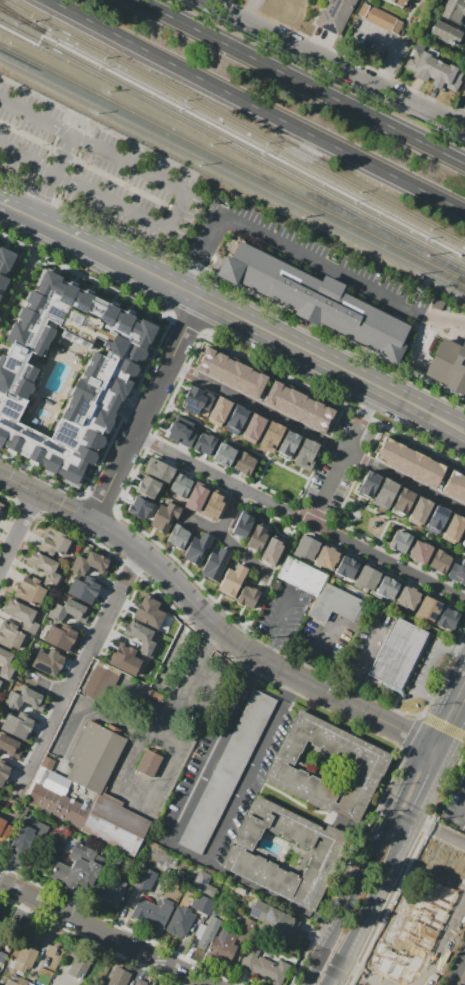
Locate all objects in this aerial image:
building: (398, 2)
building: (453, 10)
building: (335, 15)
railway: (20, 17)
building: (380, 18)
railway: (21, 19)
building: (447, 33)
road: (396, 45)
building: (463, 55)
railway: (118, 59)
road: (338, 63)
building: (432, 68)
road: (279, 71)
railway: (112, 76)
building: (463, 93)
road: (258, 107)
road: (103, 128)
railway: (253, 141)
road: (50, 151)
road: (443, 153)
road: (75, 163)
railway: (232, 163)
road: (89, 166)
parking lot: (98, 170)
railway: (232, 174)
road: (53, 176)
railway: (349, 181)
road: (14, 183)
road: (42, 196)
railway: (344, 196)
road: (182, 202)
road: (15, 208)
road: (60, 230)
road: (270, 237)
building: (3, 257)
road: (84, 276)
road: (17, 286)
road: (261, 297)
building: (316, 300)
road: (204, 301)
road: (430, 314)
road: (187, 321)
road: (420, 342)
building: (207, 359)
building: (448, 362)
building: (218, 365)
building: (230, 371)
building: (101, 375)
building: (242, 378)
building: (254, 384)
building: (274, 394)
road: (391, 397)
building: (197, 400)
building: (286, 400)
road: (332, 400)
road: (126, 404)
building: (298, 406)
road: (258, 407)
road: (147, 410)
building: (219, 411)
road: (127, 412)
building: (310, 412)
building: (237, 419)
building: (322, 419)
road: (158, 420)
building: (253, 427)
building: (179, 431)
building: (269, 436)
building: (204, 442)
building: (287, 443)
building: (386, 451)
building: (222, 452)
building: (305, 453)
building: (397, 456)
building: (240, 462)
building: (409, 463)
building: (421, 469)
building: (160, 471)
building: (433, 474)
road: (223, 479)
road: (405, 480)
building: (369, 483)
building: (452, 484)
building: (180, 485)
building: (147, 486)
building: (460, 492)
building: (384, 493)
building: (196, 498)
building: (402, 502)
road: (98, 503)
building: (1, 506)
building: (212, 506)
building: (140, 508)
road: (229, 509)
building: (420, 511)
building: (164, 517)
park: (362, 520)
building: (436, 520)
building: (242, 524)
road: (17, 527)
road: (322, 528)
building: (454, 528)
building: (178, 536)
building: (257, 536)
building: (464, 540)
building: (54, 541)
building: (400, 541)
road: (229, 542)
building: (197, 548)
building: (306, 548)
building: (272, 550)
building: (419, 552)
building: (326, 558)
building: (440, 561)
building: (90, 563)
building: (215, 564)
building: (347, 567)
building: (44, 568)
building: (458, 573)
road: (269, 574)
building: (300, 575)
building: (366, 578)
building: (233, 579)
road: (268, 580)
building: (387, 588)
building: (29, 590)
building: (83, 590)
building: (247, 596)
building: (407, 598)
building: (336, 604)
building: (428, 609)
building: (67, 610)
building: (148, 611)
building: (22, 615)
parking lot: (282, 615)
building: (447, 618)
road: (209, 620)
building: (65, 624)
road: (277, 626)
building: (10, 635)
building: (140, 637)
parking lot: (325, 643)
building: (398, 654)
building: (124, 659)
building: (47, 662)
building: (7, 665)
parking lot: (427, 669)
road: (78, 671)
road: (428, 674)
road: (191, 679)
building: (0, 680)
building: (99, 684)
road: (48, 688)
building: (24, 699)
road: (449, 714)
road: (457, 721)
building: (17, 725)
road: (455, 728)
building: (9, 745)
road: (212, 747)
building: (94, 756)
building: (47, 763)
building: (148, 765)
building: (369, 767)
road: (254, 769)
building: (3, 771)
building: (226, 772)
building: (41, 775)
road: (430, 776)
building: (56, 783)
road: (134, 792)
parking lot: (454, 796)
building: (42, 798)
road: (461, 810)
building: (71, 811)
building: (115, 825)
building: (464, 827)
building: (4, 830)
building: (29, 837)
building: (448, 842)
road: (372, 848)
building: (327, 853)
building: (446, 859)
building: (78, 869)
building: (439, 880)
building: (204, 884)
road: (377, 886)
building: (110, 888)
building: (150, 902)
building: (203, 904)
building: (429, 912)
building: (428, 915)
building: (272, 919)
building: (180, 922)
road: (92, 927)
building: (206, 933)
building: (1, 934)
building: (390, 944)
building: (223, 945)
building: (1, 955)
building: (25, 957)
building: (431, 958)
building: (396, 963)
building: (262, 966)
building: (78, 968)
road: (457, 968)
building: (0, 970)
road: (312, 973)
road: (332, 975)
building: (462, 975)
building: (119, 977)
road: (197, 979)
building: (382, 980)
building: (18, 982)
building: (140, 982)
building: (367, 984)

